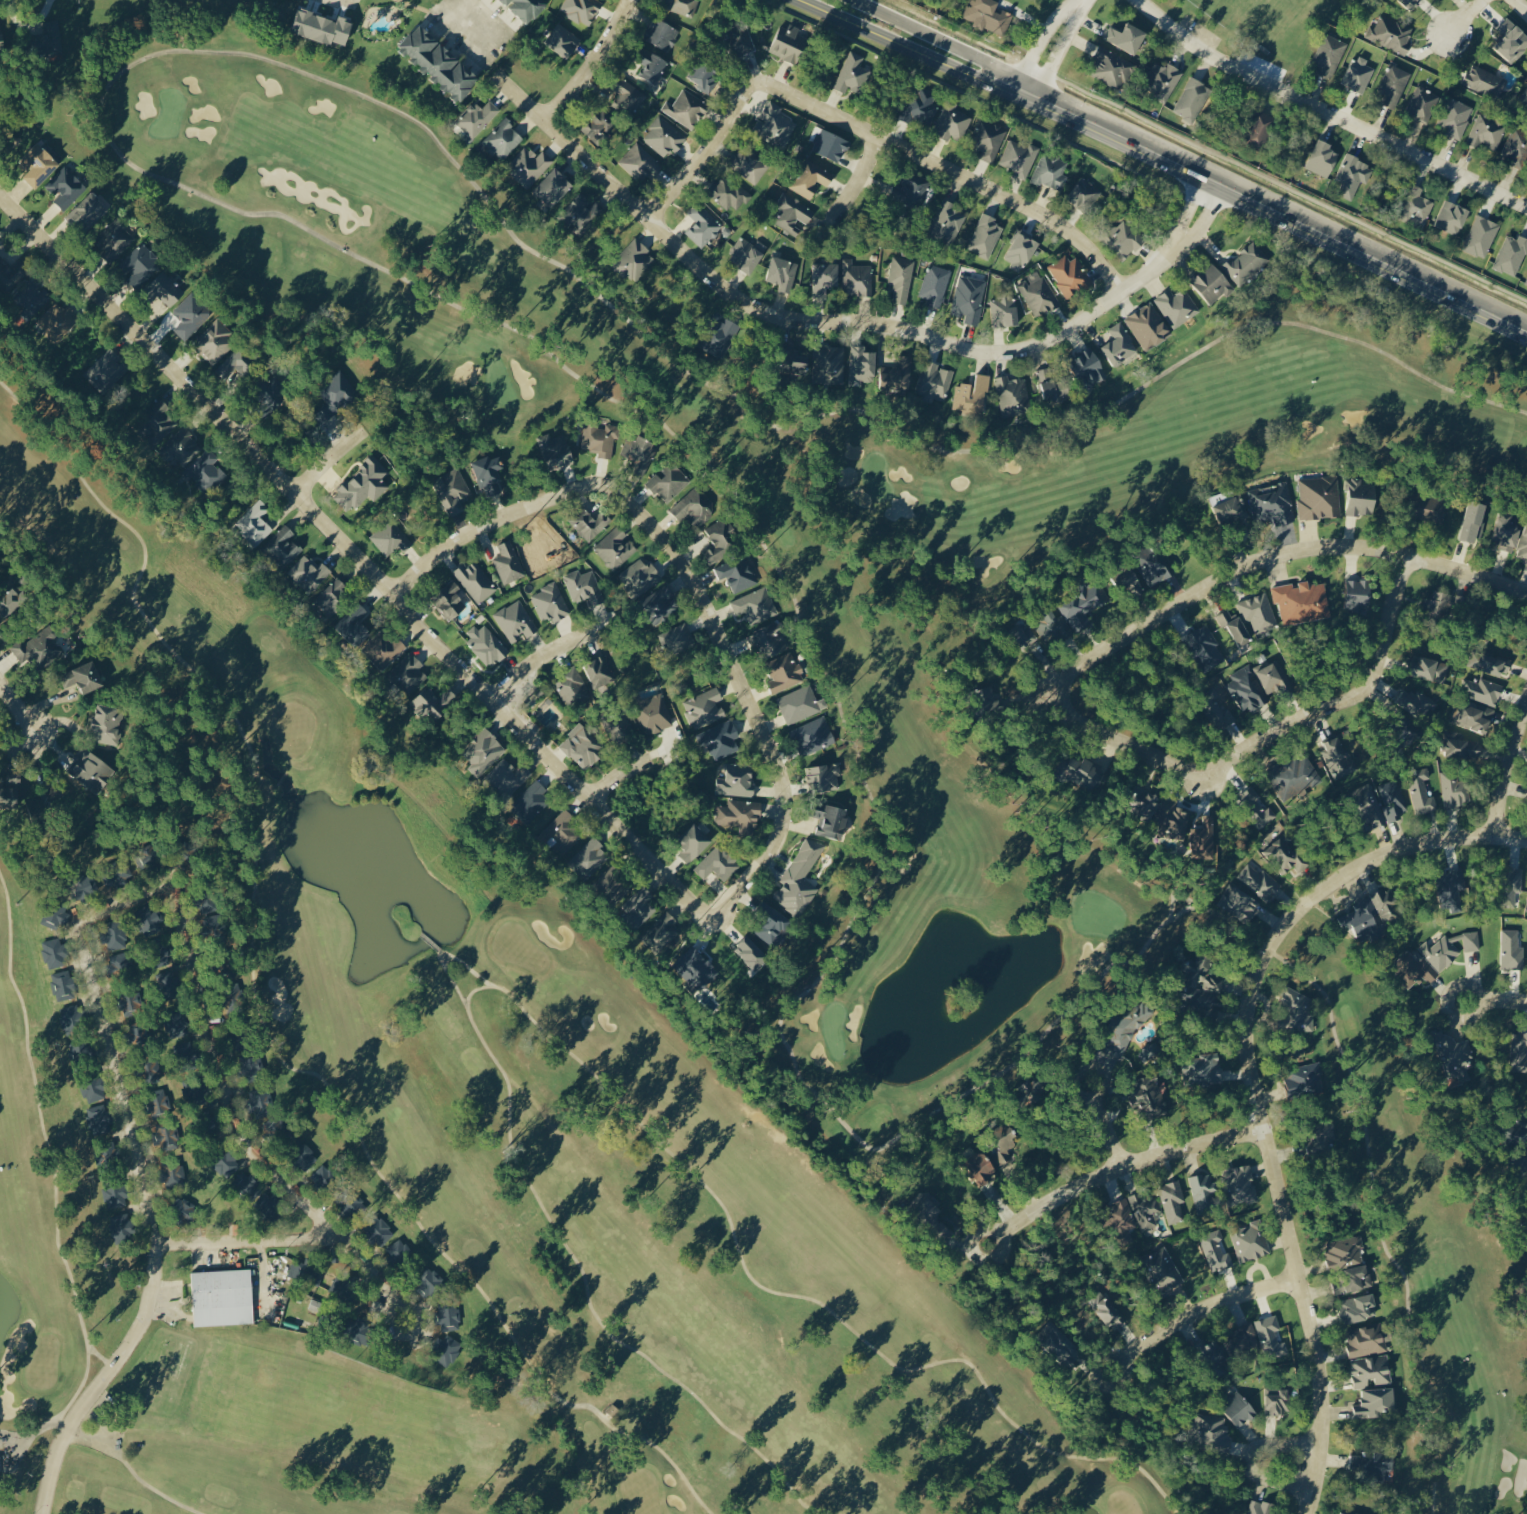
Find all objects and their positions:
building: (1410, 2)
road: (1076, 3)
building: (682, 6)
road: (1520, 6)
building: (527, 8)
building: (988, 15)
road: (1464, 16)
park: (1259, 21)
building: (324, 26)
road: (465, 26)
building: (2, 32)
building: (662, 33)
building: (1391, 34)
building: (50, 37)
building: (1128, 37)
building: (741, 39)
building: (1512, 39)
building: (563, 40)
building: (789, 43)
road: (1036, 46)
road: (958, 49)
road: (1056, 55)
building: (1329, 55)
road: (928, 58)
building: (440, 61)
road: (590, 63)
building: (652, 66)
building: (1112, 68)
building: (852, 73)
building: (1359, 73)
building: (705, 74)
building: (1163, 80)
building: (1485, 81)
building: (1394, 84)
building: (630, 96)
building: (1193, 99)
building: (1423, 104)
building: (920, 106)
building: (687, 109)
road: (1326, 113)
building: (477, 117)
building: (1456, 117)
building: (952, 121)
building: (777, 124)
building: (597, 126)
building: (1262, 127)
building: (1486, 131)
road: (872, 134)
building: (664, 136)
building: (988, 138)
building: (501, 139)
building: (831, 144)
building: (1516, 148)
building: (1019, 157)
building: (1323, 157)
building: (638, 162)
building: (39, 164)
building: (749, 164)
building: (529, 166)
road: (863, 167)
building: (1049, 170)
building: (1352, 175)
building: (811, 179)
building: (66, 187)
building: (553, 187)
building: (911, 189)
building: (729, 193)
building: (1083, 193)
building: (1415, 206)
building: (89, 211)
building: (581, 213)
building: (792, 214)
building: (1452, 216)
road: (1294, 218)
building: (946, 221)
building: (702, 224)
building: (985, 236)
building: (1480, 236)
building: (1125, 238)
building: (113, 240)
building: (1020, 251)
building: (747, 253)
building: (1511, 254)
building: (633, 259)
building: (1246, 262)
building: (141, 264)
building: (13, 272)
building: (782, 272)
building: (1069, 275)
building: (825, 277)
building: (857, 278)
building: (901, 278)
building: (1212, 282)
building: (1526, 282)
building: (935, 284)
building: (166, 289)
building: (34, 294)
building: (1039, 295)
building: (969, 298)
building: (1177, 306)
building: (1004, 310)
building: (191, 315)
building: (59, 320)
road: (848, 322)
building: (1149, 326)
building: (722, 336)
building: (214, 341)
building: (1120, 344)
building: (862, 362)
building: (235, 363)
building: (829, 363)
building: (1090, 367)
building: (107, 369)
building: (798, 371)
building: (897, 376)
building: (933, 382)
building: (1053, 384)
building: (274, 392)
building: (337, 394)
building: (972, 395)
building: (1013, 395)
building: (156, 423)
building: (600, 437)
building: (183, 447)
building: (556, 450)
building: (639, 450)
road: (338, 452)
building: (207, 472)
building: (488, 474)
building: (669, 481)
building: (361, 484)
building: (453, 489)
building: (1318, 497)
building: (1362, 497)
building: (1271, 504)
building: (694, 506)
building: (1429, 506)
building: (1229, 510)
building: (1474, 521)
building: (255, 523)
building: (591, 524)
building: (1508, 532)
building: (391, 539)
building: (722, 539)
building: (284, 545)
road: (361, 547)
building: (615, 547)
building: (1523, 547)
building: (508, 563)
building: (1154, 566)
road: (1465, 567)
building: (310, 573)
building: (738, 573)
building: (638, 578)
road: (704, 578)
road: (1222, 579)
building: (1133, 580)
building: (475, 581)
building: (583, 587)
building: (1358, 591)
building: (332, 596)
building: (450, 601)
building: (1302, 601)
building: (11, 602)
building: (550, 603)
building: (660, 604)
building: (1084, 604)
building: (1441, 604)
building: (755, 606)
building: (1258, 612)
building: (516, 621)
park: (898, 621)
building: (1051, 627)
building: (1236, 628)
building: (675, 638)
building: (770, 640)
building: (487, 645)
building: (40, 647)
building: (1206, 647)
building: (384, 650)
road: (528, 654)
building: (1491, 663)
building: (1429, 668)
building: (600, 671)
building: (784, 672)
building: (408, 673)
building: (84, 677)
building: (1273, 678)
building: (571, 688)
building: (1246, 688)
building: (1481, 690)
road: (14, 702)
building: (1415, 702)
building: (434, 703)
building: (800, 704)
building: (703, 708)
building: (653, 713)
building: (1221, 716)
building: (1473, 716)
building: (107, 724)
road: (1271, 732)
building: (1409, 733)
building: (812, 736)
building: (719, 739)
building: (582, 746)
building: (1461, 746)
building: (483, 752)
building: (1338, 757)
building: (90, 769)
road: (616, 771)
road: (1505, 771)
building: (1083, 772)
building: (13, 776)
building: (1295, 776)
building: (507, 777)
building: (823, 777)
building: (736, 780)
building: (1454, 790)
building: (1421, 791)
building: (9, 798)
building: (1392, 800)
building: (531, 802)
building: (1526, 803)
building: (1257, 807)
building: (1370, 807)
building: (1163, 812)
building: (739, 814)
building: (832, 821)
building: (564, 831)
building: (1204, 838)
building: (693, 843)
building: (1285, 853)
building: (588, 860)
building: (718, 863)
building: (115, 875)
building: (799, 879)
building: (609, 882)
building: (1259, 882)
building: (85, 886)
building: (1514, 888)
building: (1451, 890)
building: (1238, 902)
building: (639, 906)
building: (1386, 906)
building: (55, 916)
building: (1361, 919)
building: (149, 920)
building: (771, 925)
building: (662, 932)
building: (114, 935)
building: (163, 949)
building: (55, 953)
building: (751, 953)
building: (1433, 958)
building: (122, 963)
building: (696, 968)
road: (101, 981)
building: (170, 984)
building: (1203, 984)
building: (64, 985)
road: (1490, 993)
building: (130, 1001)
building: (1294, 1005)
building: (71, 1018)
building: (179, 1024)
building: (1127, 1025)
building: (83, 1049)
building: (1151, 1051)
building: (1519, 1052)
building: (248, 1064)
building: (1304, 1077)
building: (1032, 1085)
road: (1256, 1085)
building: (94, 1089)
building: (1151, 1093)
building: (261, 1102)
building: (99, 1118)
building: (161, 1120)
road: (1109, 1124)
building: (1519, 1129)
park: (454, 1131)
building: (1004, 1141)
building: (107, 1154)
building: (304, 1156)
road: (1135, 1160)
building: (226, 1163)
building: (981, 1167)
building: (172, 1170)
building: (327, 1178)
building: (246, 1183)
building: (1241, 1183)
building: (1203, 1189)
building: (115, 1193)
building: (1173, 1200)
building: (269, 1203)
building: (925, 1206)
building: (1145, 1208)
building: (185, 1209)
building: (1121, 1214)
building: (121, 1226)
building: (379, 1230)
road: (287, 1238)
building: (1256, 1238)
building: (398, 1252)
building: (1344, 1252)
building: (1162, 1268)
building: (294, 1270)
building: (1351, 1280)
building: (428, 1282)
building: (222, 1297)
building: (1358, 1307)
building: (1105, 1309)
road: (1199, 1310)
building: (448, 1314)
building: (358, 1331)
building: (1242, 1338)
building: (1366, 1340)
building: (1058, 1341)
building: (448, 1351)
building: (1214, 1356)
building: (1370, 1370)
building: (1278, 1399)
building: (1376, 1401)
building: (1239, 1408)
building: (1210, 1431)
building: (1357, 1461)
building: (1384, 1461)
road: (1292, 1466)
building: (1259, 1507)
building: (1350, 1510)

